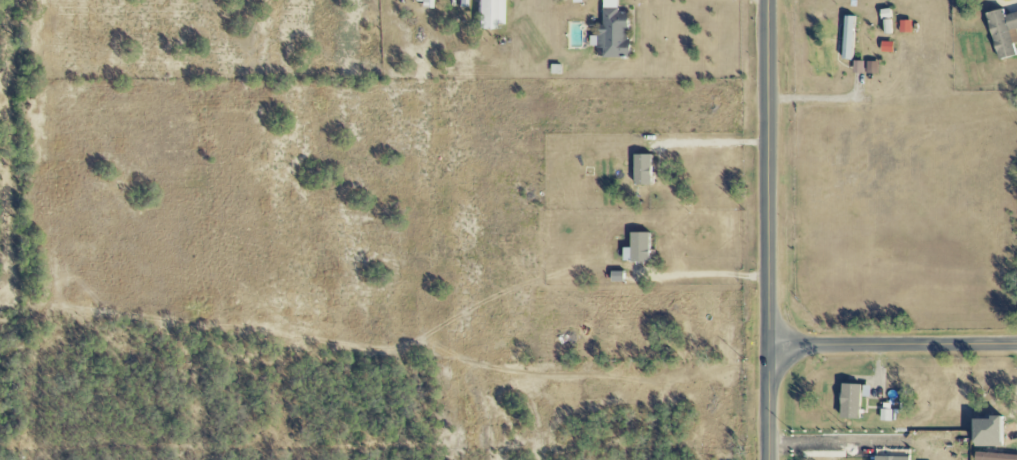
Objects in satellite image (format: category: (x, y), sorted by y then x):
building: (420, 2)
road: (1007, 4)
building: (487, 13)
building: (886, 26)
building: (904, 27)
building: (611, 31)
building: (1002, 32)
building: (846, 38)
building: (885, 47)
building: (856, 67)
building: (870, 67)
road: (712, 145)
building: (640, 170)
road: (770, 229)
building: (635, 248)
road: (894, 347)
building: (848, 400)
building: (884, 414)
building: (984, 431)
road: (825, 440)
building: (993, 456)
building: (889, 458)

